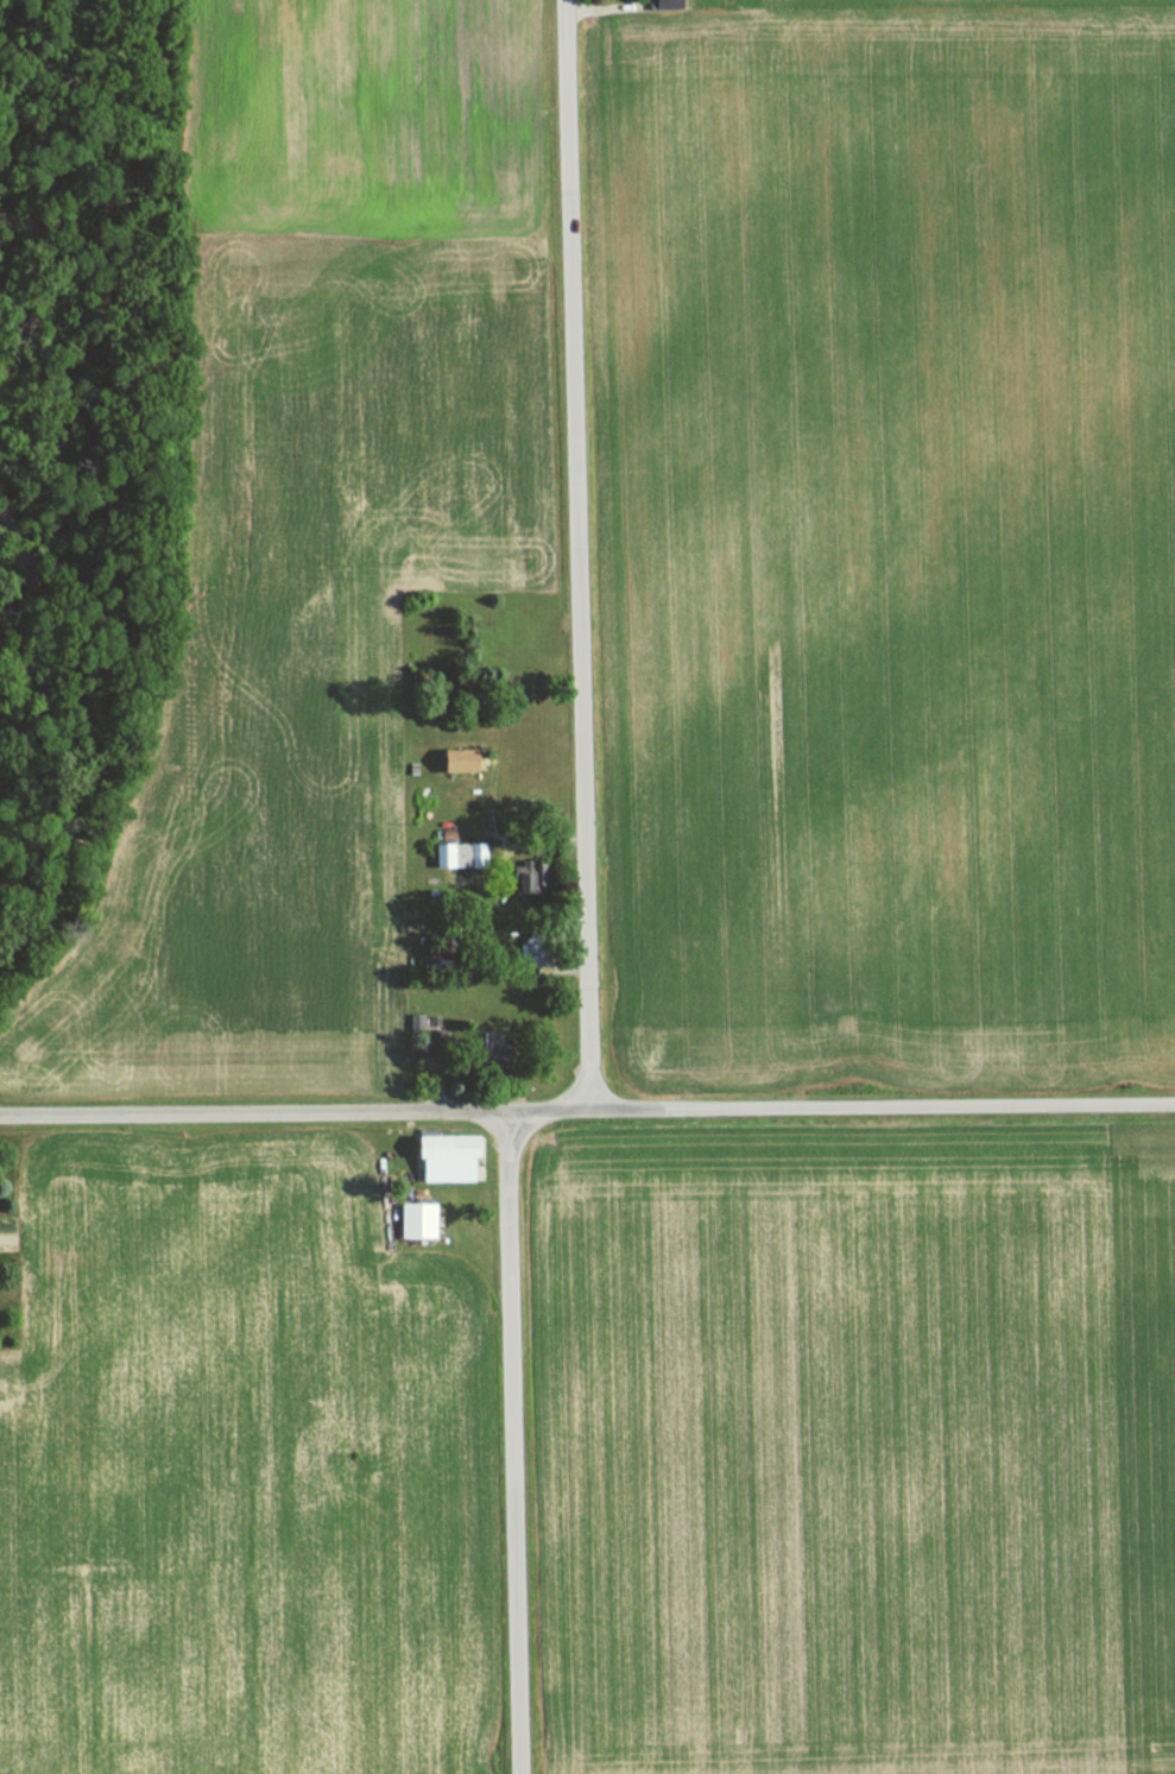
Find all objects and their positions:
building: (658, 5)
crop: (336, 387)
crop: (892, 411)
road: (579, 553)
building: (462, 760)
building: (461, 854)
building: (532, 876)
building: (536, 945)
crop: (897, 946)
crop: (239, 959)
road: (587, 1106)
building: (449, 1157)
building: (418, 1220)
road: (512, 1442)
crop: (867, 1457)
crop: (236, 1472)

